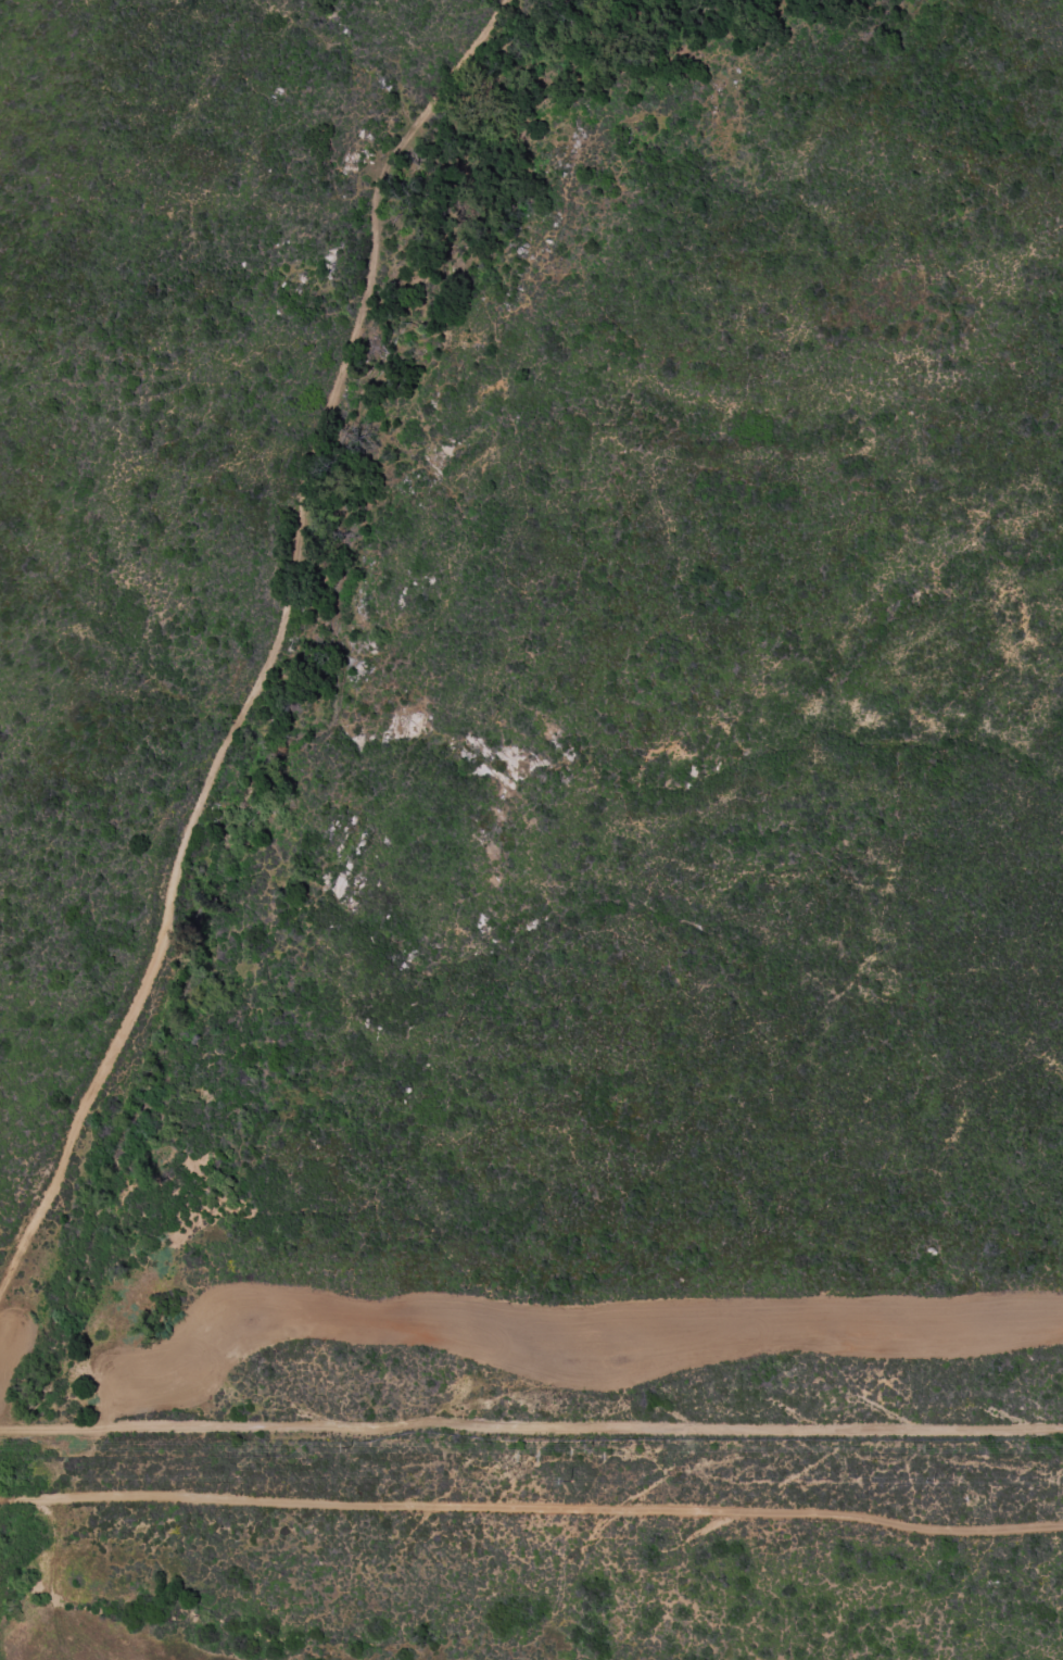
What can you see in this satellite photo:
road: (531, 1426)
road: (532, 1510)

